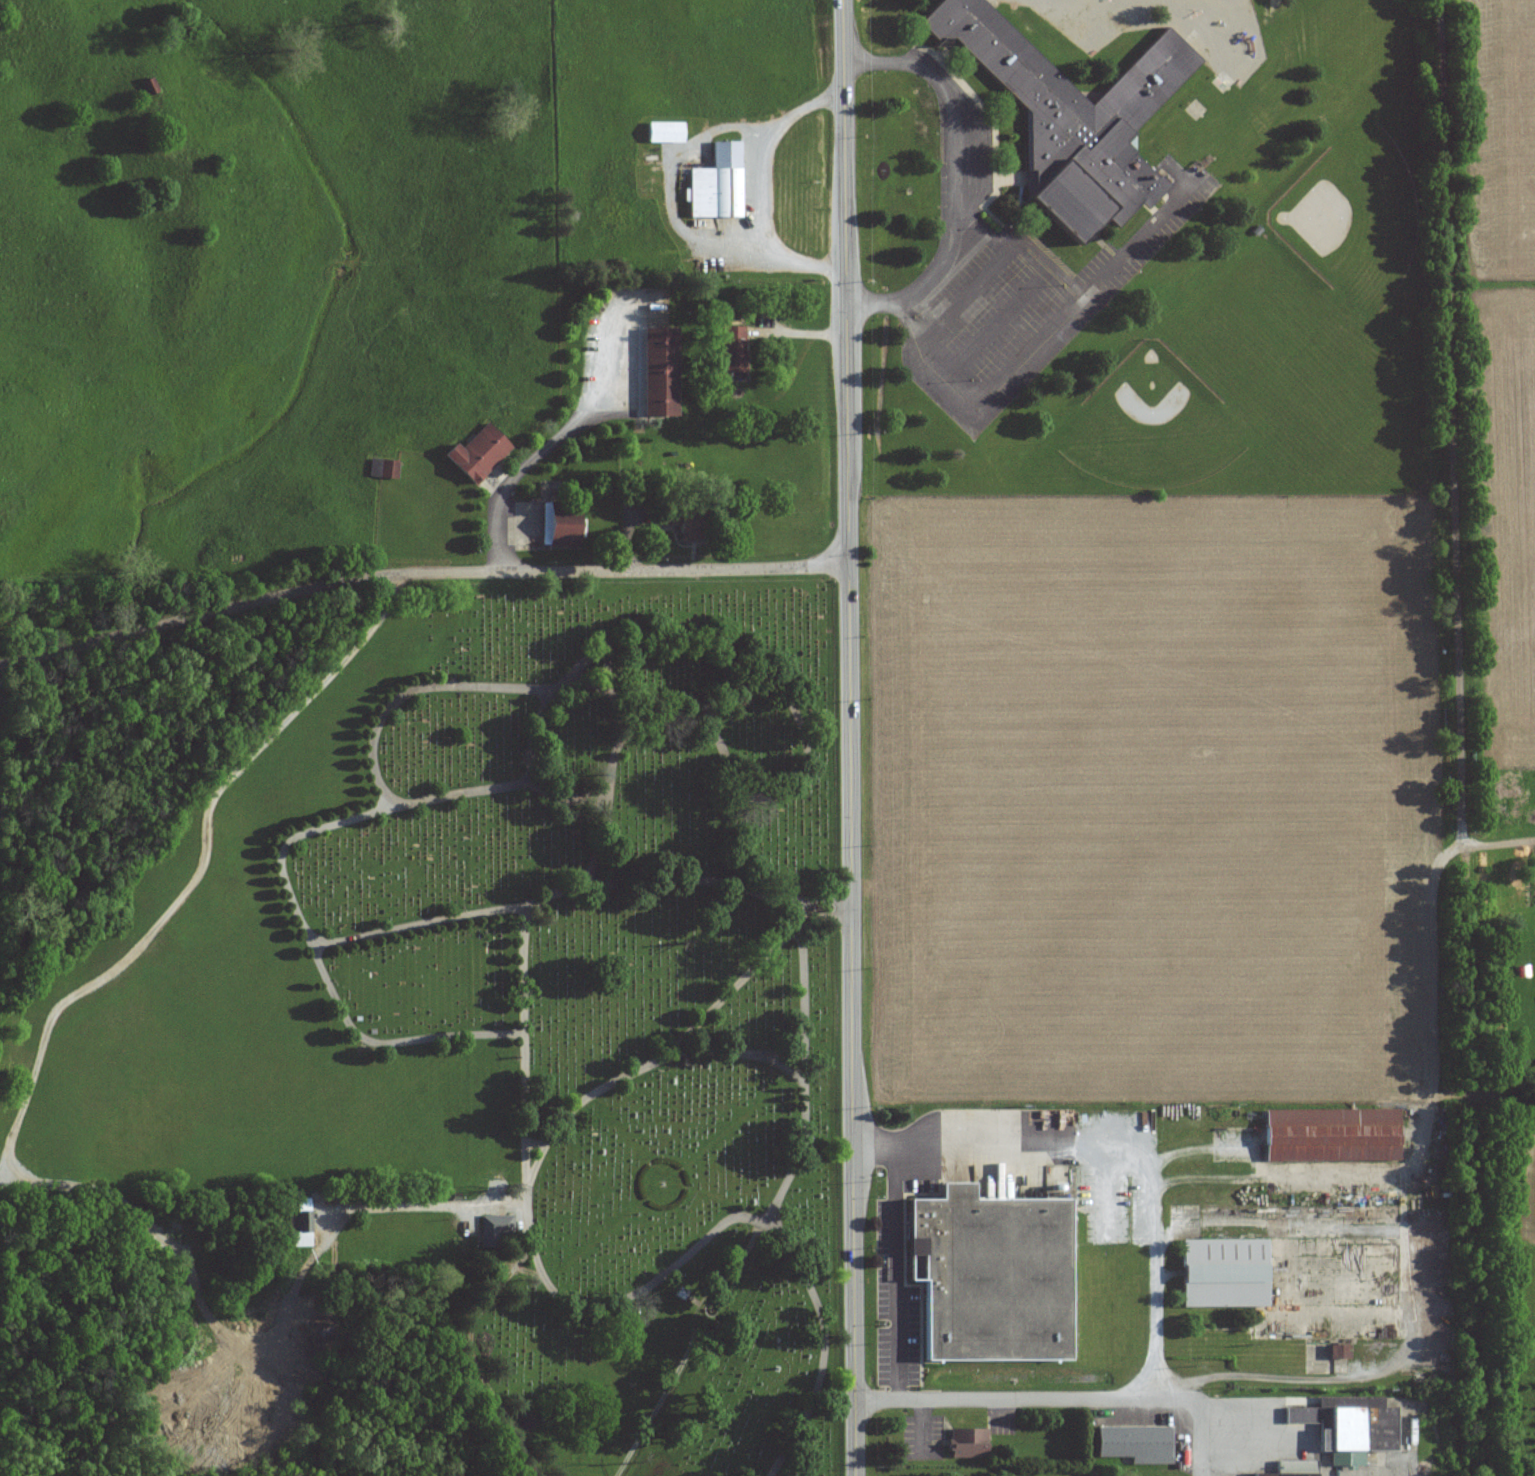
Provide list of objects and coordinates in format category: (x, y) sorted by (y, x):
building: (1071, 116)
building: (663, 133)
road: (959, 175)
road: (759, 184)
building: (714, 185)
road: (665, 190)
road: (1028, 247)
road: (1042, 339)
building: (730, 350)
building: (655, 373)
road: (544, 450)
building: (474, 455)
building: (382, 470)
building: (556, 529)
road: (418, 572)
road: (669, 631)
road: (415, 689)
road: (668, 713)
road: (849, 737)
road: (579, 886)
road: (294, 900)
road: (788, 911)
park: (440, 1019)
road: (733, 1053)
road: (659, 1059)
road: (783, 1065)
road: (805, 1066)
road: (1431, 1096)
building: (1327, 1135)
road: (1109, 1158)
fountain: (662, 1182)
building: (295, 1224)
road: (335, 1226)
building: (494, 1226)
road: (897, 1270)
building: (1221, 1273)
building: (998, 1275)
road: (1420, 1287)
road: (617, 1301)
road: (720, 1310)
road: (689, 1346)
building: (1335, 1352)
road: (1059, 1397)
road: (921, 1422)
building: (1350, 1430)
building: (965, 1443)
building: (1133, 1444)
building: (1292, 1469)
road: (1342, 1475)

